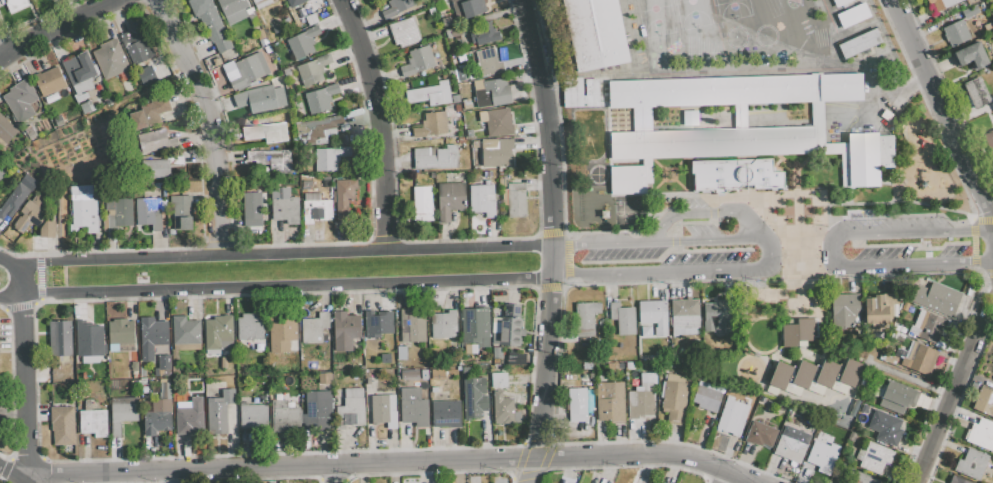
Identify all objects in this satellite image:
building: (970, 1)
building: (293, 2)
building: (840, 2)
building: (261, 3)
building: (941, 3)
building: (16, 4)
building: (397, 8)
building: (472, 8)
building: (234, 9)
building: (969, 11)
building: (295, 15)
building: (853, 15)
road: (541, 17)
road: (513, 19)
building: (211, 23)
road: (60, 28)
building: (405, 32)
building: (596, 33)
building: (956, 33)
building: (484, 34)
building: (858, 43)
building: (301, 44)
building: (137, 47)
building: (970, 56)
building: (110, 59)
building: (418, 61)
building: (489, 62)
building: (245, 70)
building: (313, 70)
building: (79, 72)
building: (147, 76)
building: (49, 81)
building: (491, 92)
building: (579, 92)
building: (977, 93)
building: (430, 94)
building: (321, 98)
building: (261, 99)
building: (21, 100)
building: (149, 113)
road: (550, 120)
building: (497, 122)
road: (210, 123)
road: (380, 123)
building: (736, 123)
road: (944, 123)
building: (432, 125)
building: (315, 129)
building: (7, 130)
building: (266, 132)
building: (989, 140)
building: (156, 141)
building: (496, 152)
building: (330, 158)
building: (436, 158)
building: (275, 160)
building: (155, 168)
building: (758, 174)
building: (714, 175)
building: (1, 176)
building: (344, 197)
building: (449, 199)
building: (482, 199)
building: (515, 199)
building: (13, 202)
building: (423, 203)
building: (285, 205)
building: (316, 207)
building: (84, 208)
building: (252, 209)
building: (148, 211)
building: (181, 211)
building: (119, 213)
road: (710, 215)
building: (35, 219)
road: (58, 227)
road: (972, 234)
road: (900, 236)
road: (706, 242)
road: (762, 242)
road: (625, 244)
parking lot: (895, 249)
parking lot: (675, 254)
road: (803, 254)
road: (288, 255)
road: (896, 269)
road: (20, 274)
road: (656, 276)
road: (285, 287)
building: (937, 298)
road: (980, 298)
road: (6, 302)
building: (879, 309)
building: (844, 310)
building: (654, 315)
building: (717, 315)
building: (685, 316)
building: (586, 317)
building: (623, 318)
building: (378, 324)
building: (444, 325)
building: (412, 326)
building: (476, 326)
building: (509, 326)
building: (249, 327)
building: (314, 328)
building: (933, 328)
building: (345, 330)
building: (185, 331)
building: (646, 331)
building: (798, 332)
building: (219, 333)
building: (282, 333)
building: (121, 335)
building: (151, 337)
building: (60, 338)
building: (89, 339)
building: (401, 353)
building: (515, 357)
building: (917, 357)
building: (385, 358)
building: (165, 364)
road: (547, 364)
building: (225, 365)
building: (851, 372)
building: (827, 373)
building: (804, 374)
building: (781, 375)
building: (410, 376)
building: (324, 378)
building: (499, 379)
building: (838, 386)
road: (27, 389)
building: (55, 391)
building: (708, 396)
building: (896, 396)
building: (1, 397)
building: (474, 397)
building: (674, 397)
building: (588, 398)
building: (641, 401)
road: (950, 401)
building: (610, 402)
building: (984, 402)
building: (577, 405)
building: (414, 408)
building: (351, 409)
building: (504, 409)
building: (318, 410)
building: (383, 410)
building: (219, 411)
building: (122, 413)
building: (283, 414)
building: (446, 414)
building: (253, 416)
building: (732, 416)
building: (157, 417)
building: (189, 422)
building: (93, 423)
building: (63, 426)
building: (889, 430)
building: (761, 434)
building: (982, 434)
building: (791, 444)
building: (823, 456)
building: (874, 457)
building: (972, 464)
road: (397, 465)
road: (340, 475)
road: (9, 476)
road: (726, 477)
building: (864, 478)
building: (957, 480)

